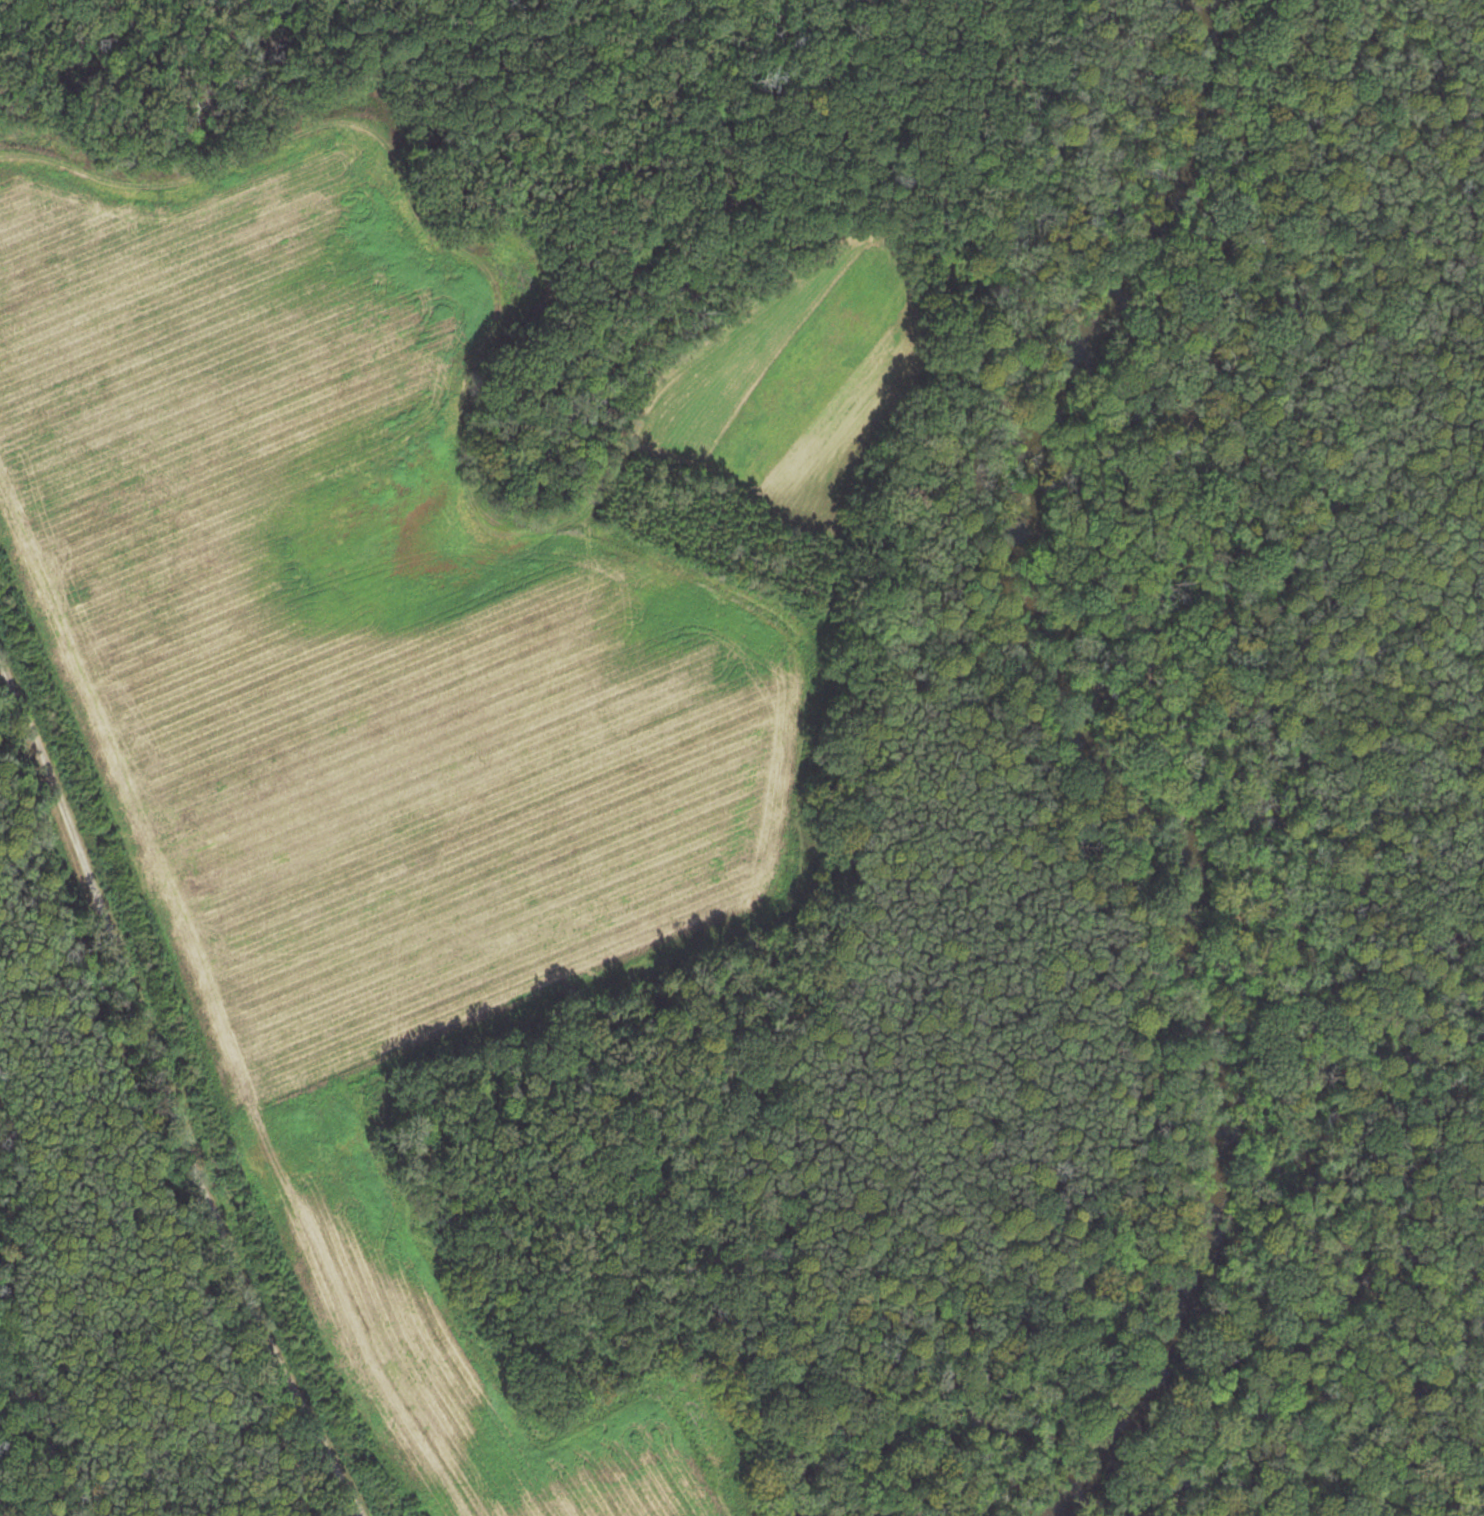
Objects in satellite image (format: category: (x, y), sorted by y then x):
road: (191, 1087)

